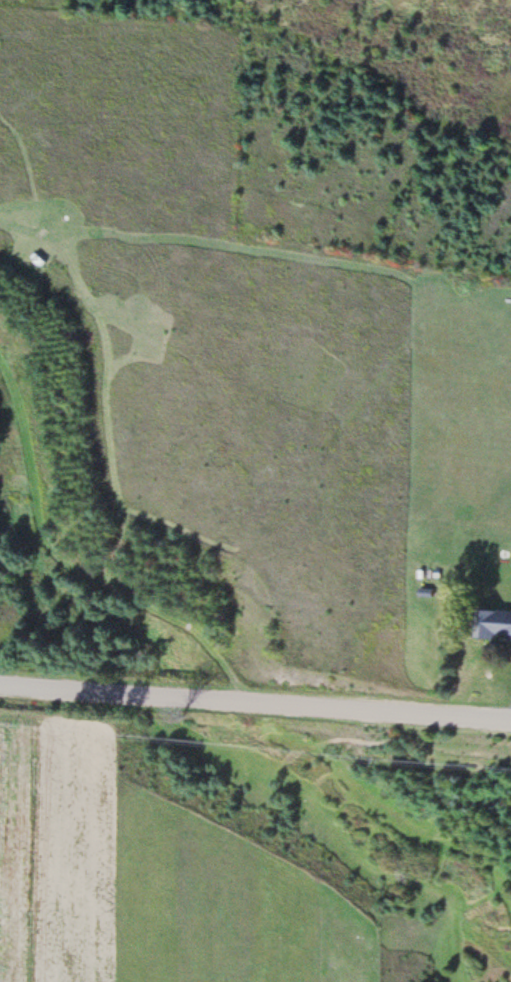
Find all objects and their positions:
building: (500, 625)
road: (255, 703)

